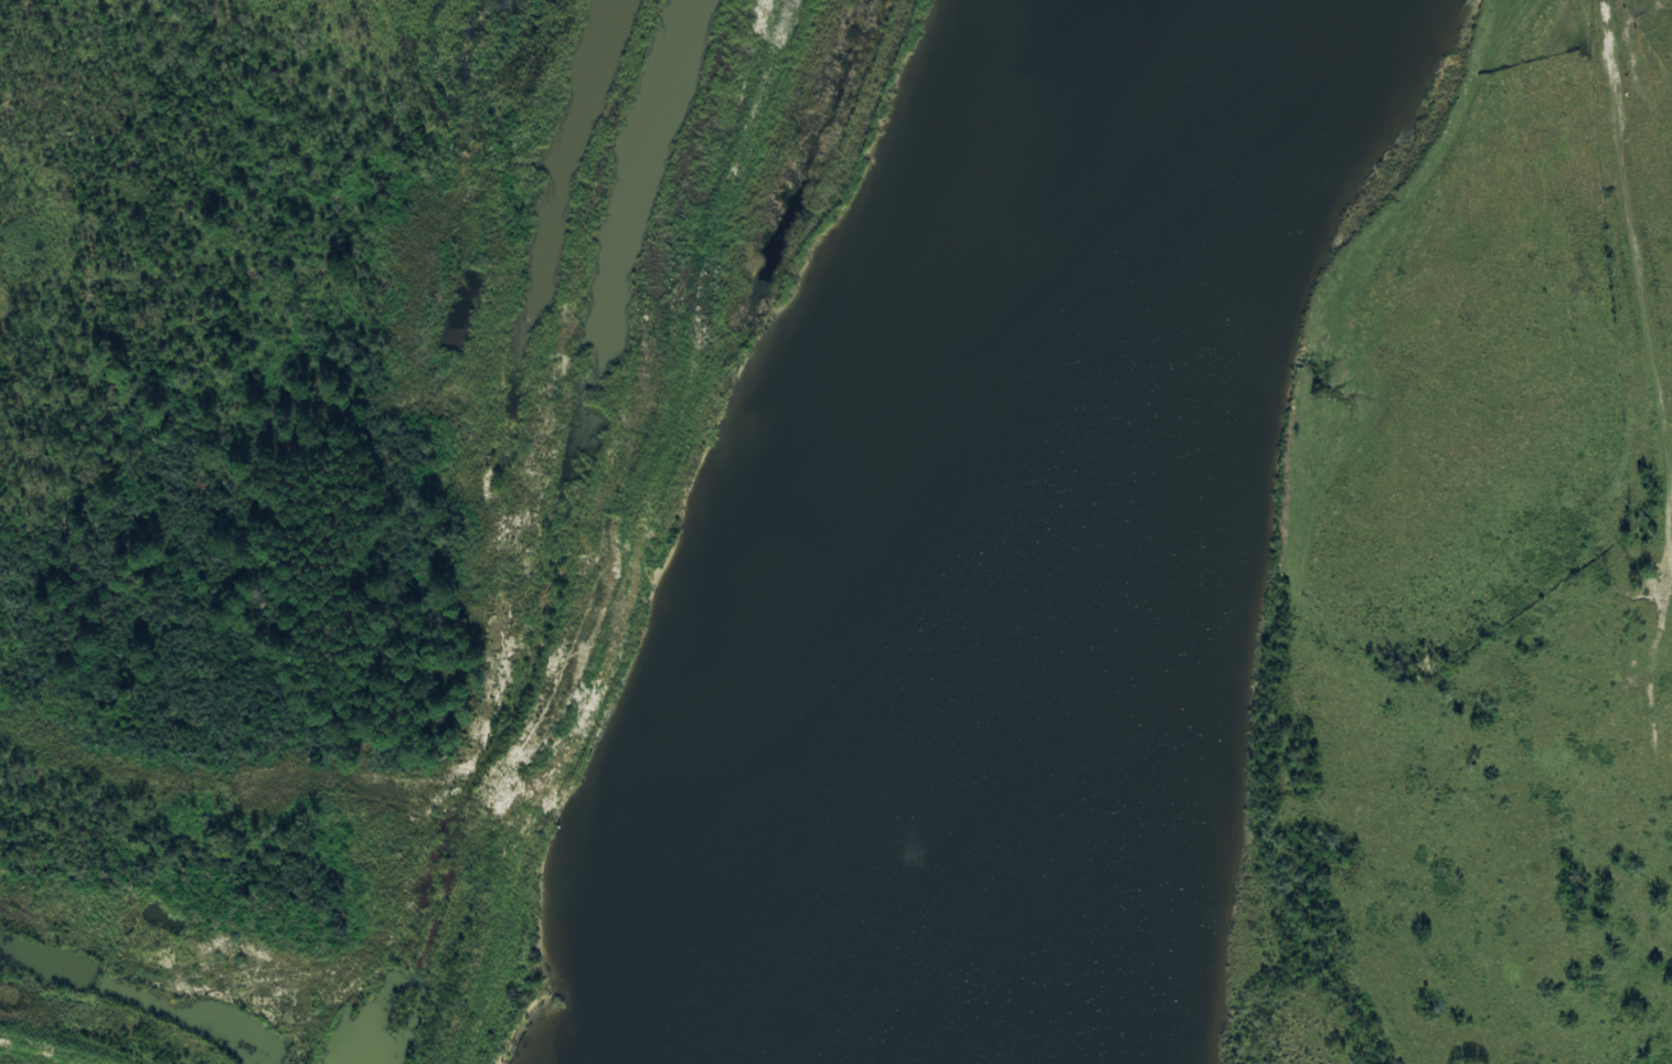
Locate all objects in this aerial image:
road: (1651, 372)

